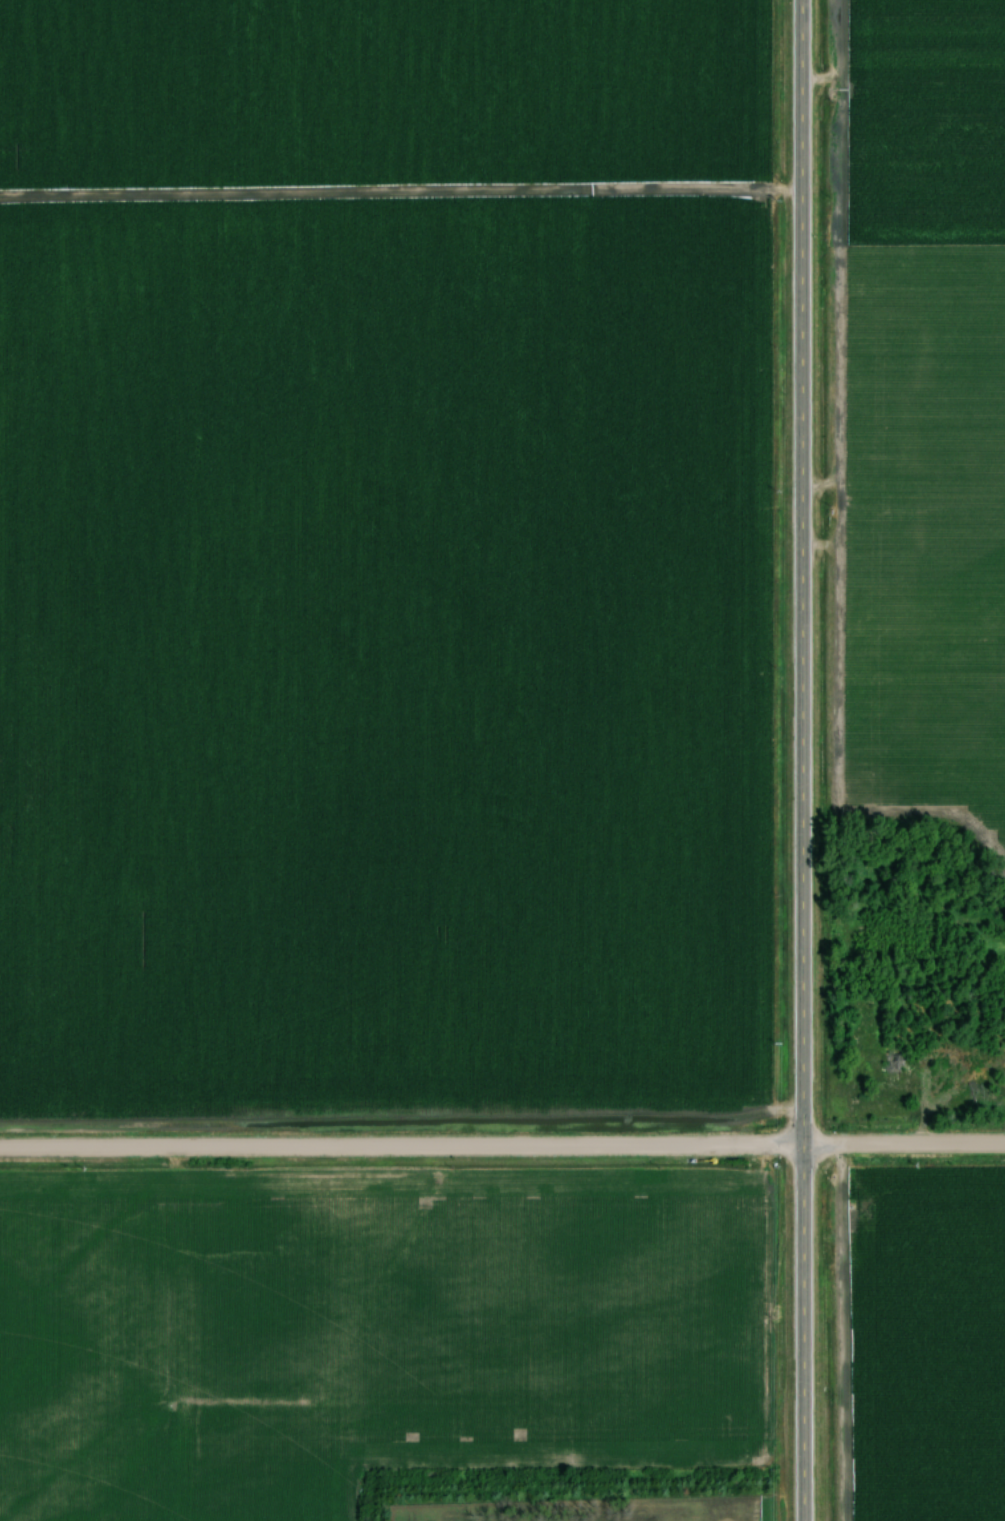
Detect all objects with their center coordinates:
crop: (386, 88)
crop: (922, 404)
crop: (384, 651)
road: (804, 760)
crop: (913, 971)
road: (502, 1147)

